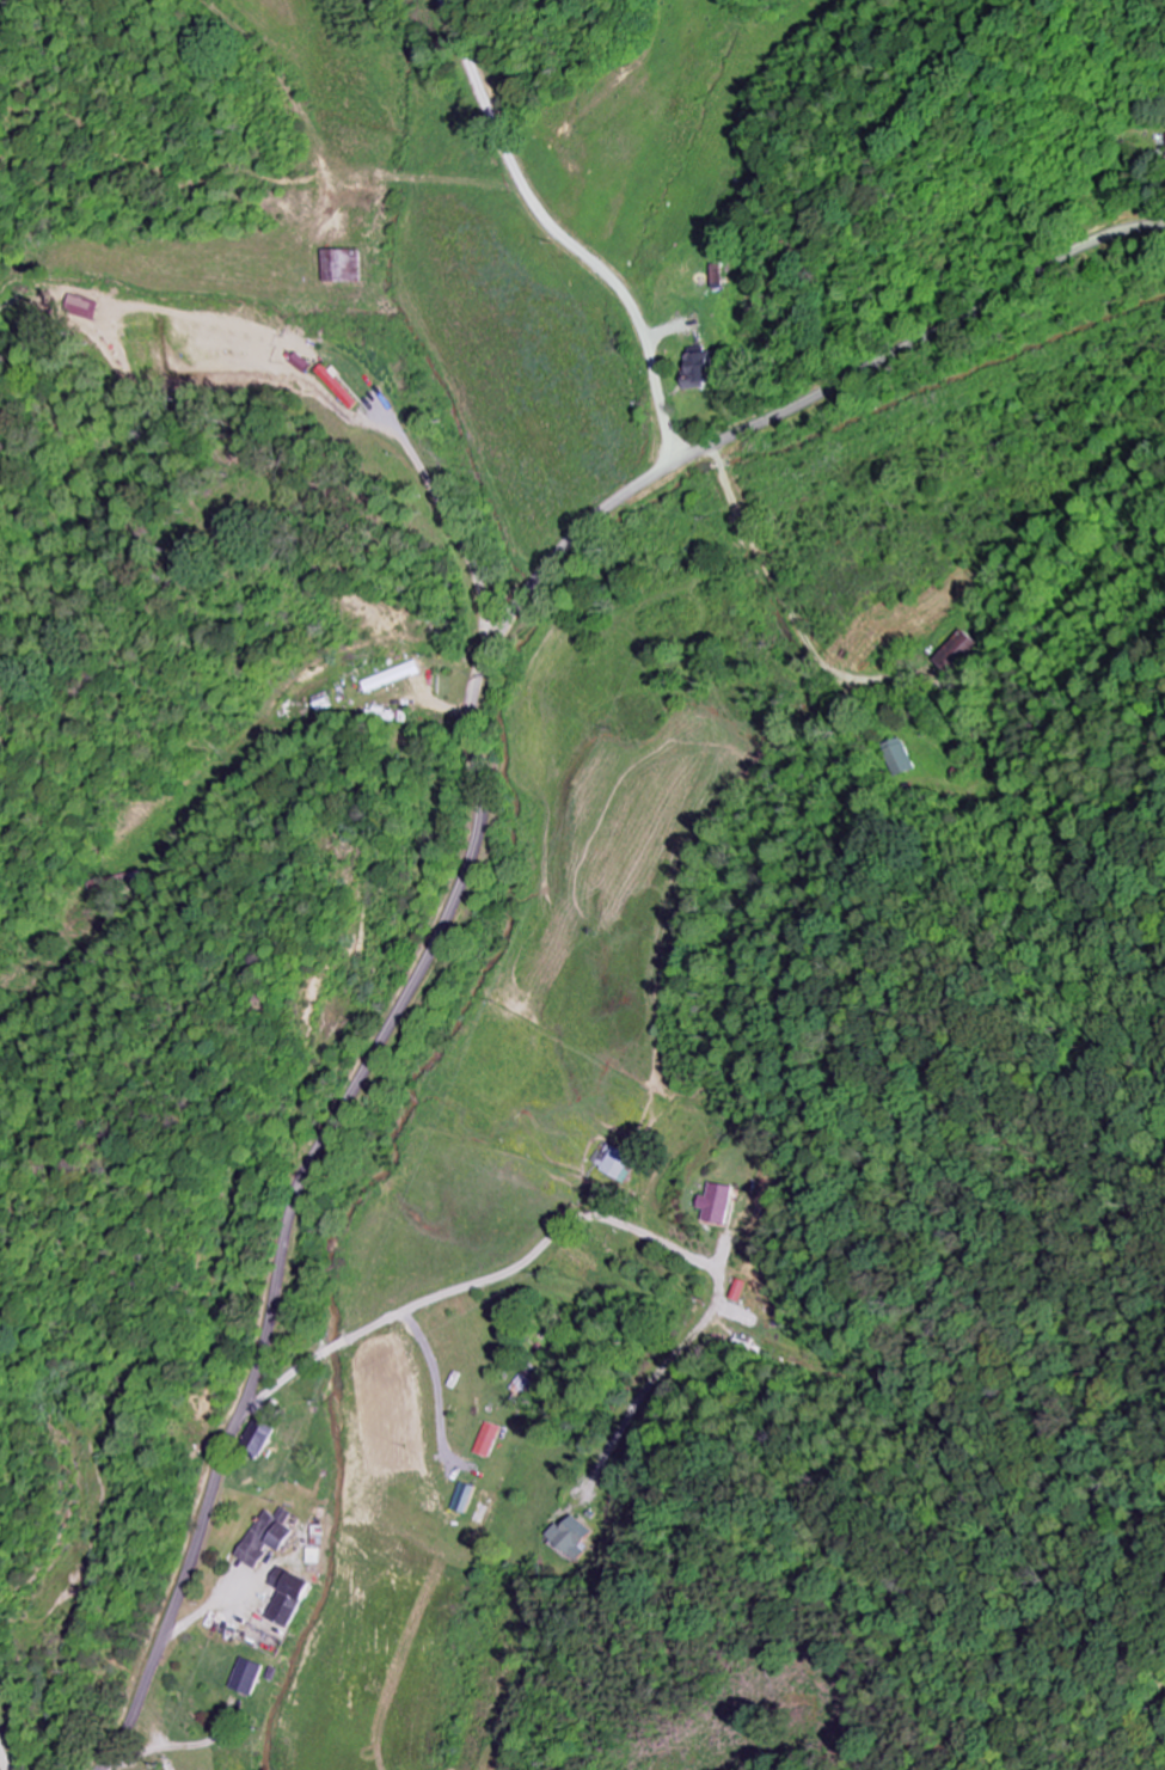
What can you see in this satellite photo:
road: (550, 246)
building: (347, 265)
building: (723, 276)
building: (301, 362)
building: (706, 368)
building: (339, 386)
building: (958, 653)
building: (396, 676)
building: (894, 758)
road: (480, 843)
building: (619, 1164)
building: (722, 1202)
building: (516, 1389)
building: (265, 1435)
building: (483, 1439)
building: (271, 1536)
building: (569, 1536)
building: (318, 1555)
building: (287, 1604)
building: (252, 1676)
park: (7, 1748)

